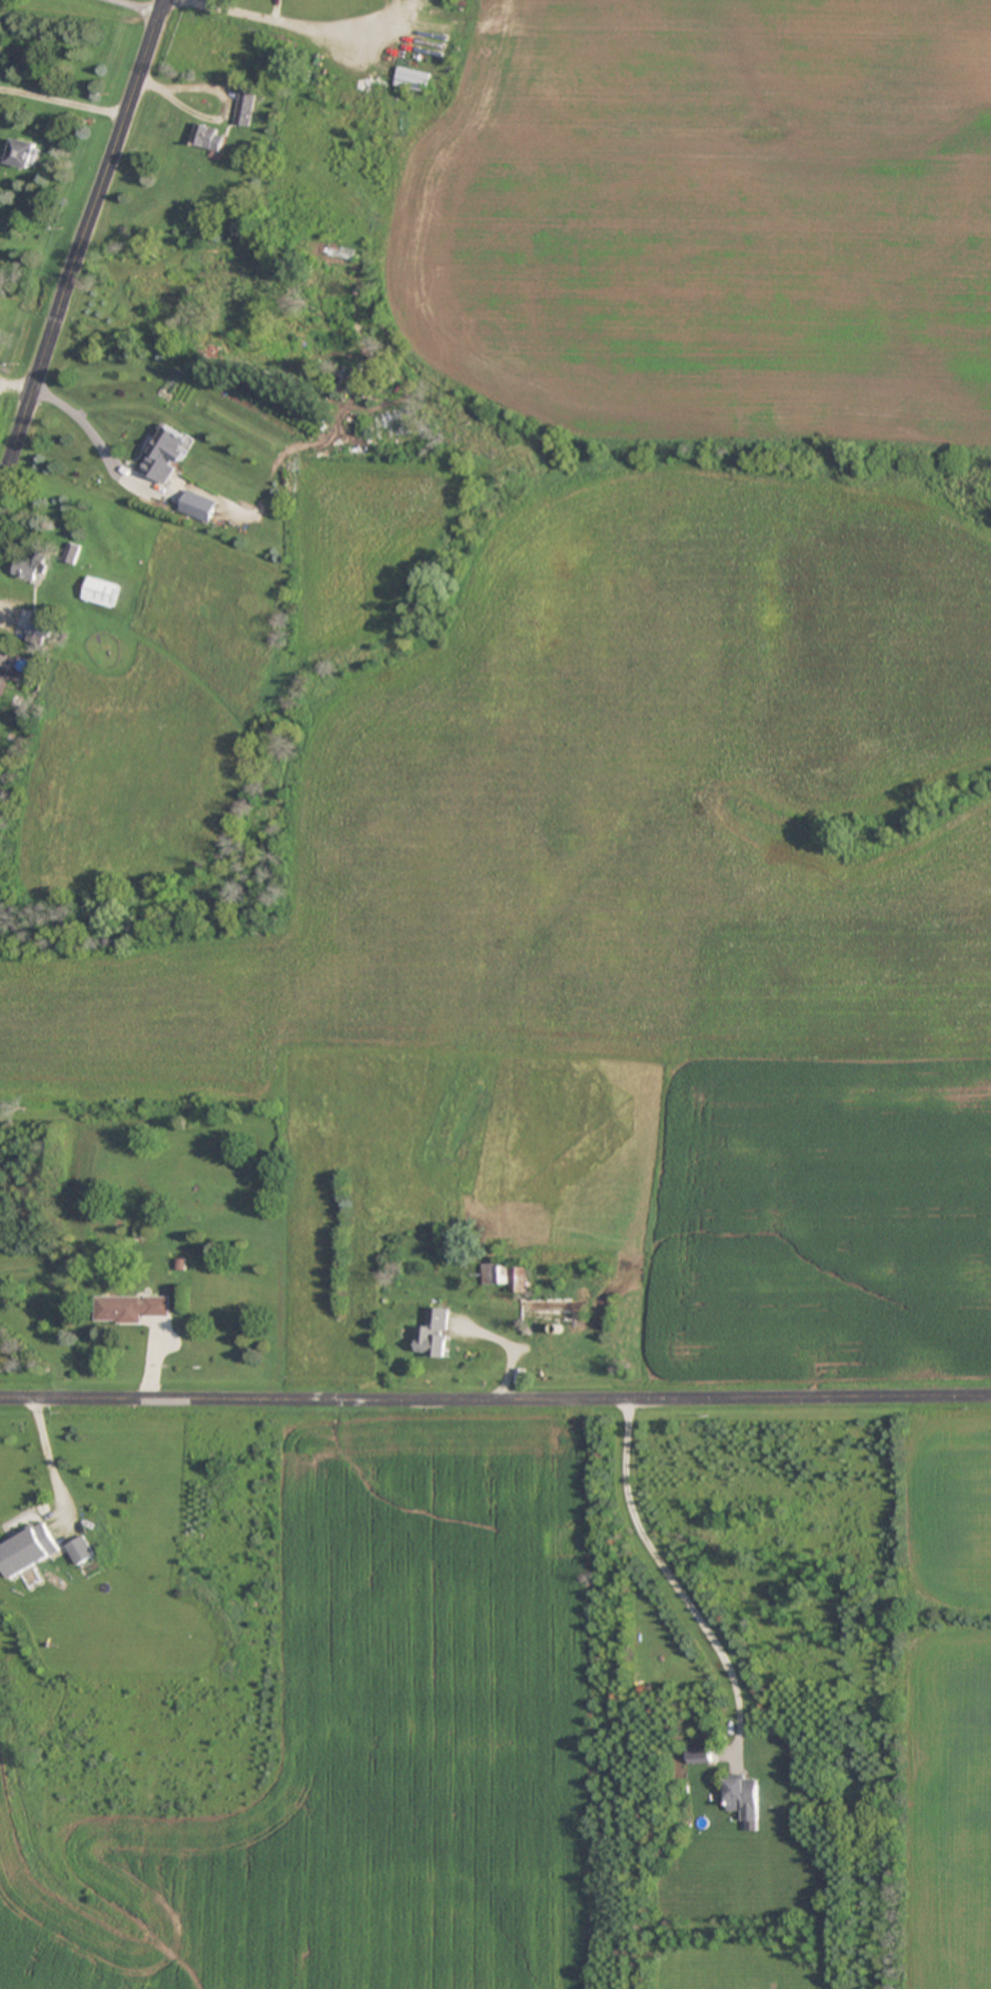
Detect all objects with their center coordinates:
road: (144, 4)
road: (305, 24)
road: (63, 97)
building: (244, 108)
building: (209, 138)
building: (24, 154)
road: (82, 241)
road: (95, 430)
building: (168, 461)
building: (31, 567)
building: (102, 591)
building: (39, 632)
building: (3, 656)
building: (131, 1308)
building: (548, 1309)
building: (437, 1331)
road: (495, 1396)
building: (81, 1549)
building: (29, 1550)
building: (699, 1754)
building: (745, 1800)

